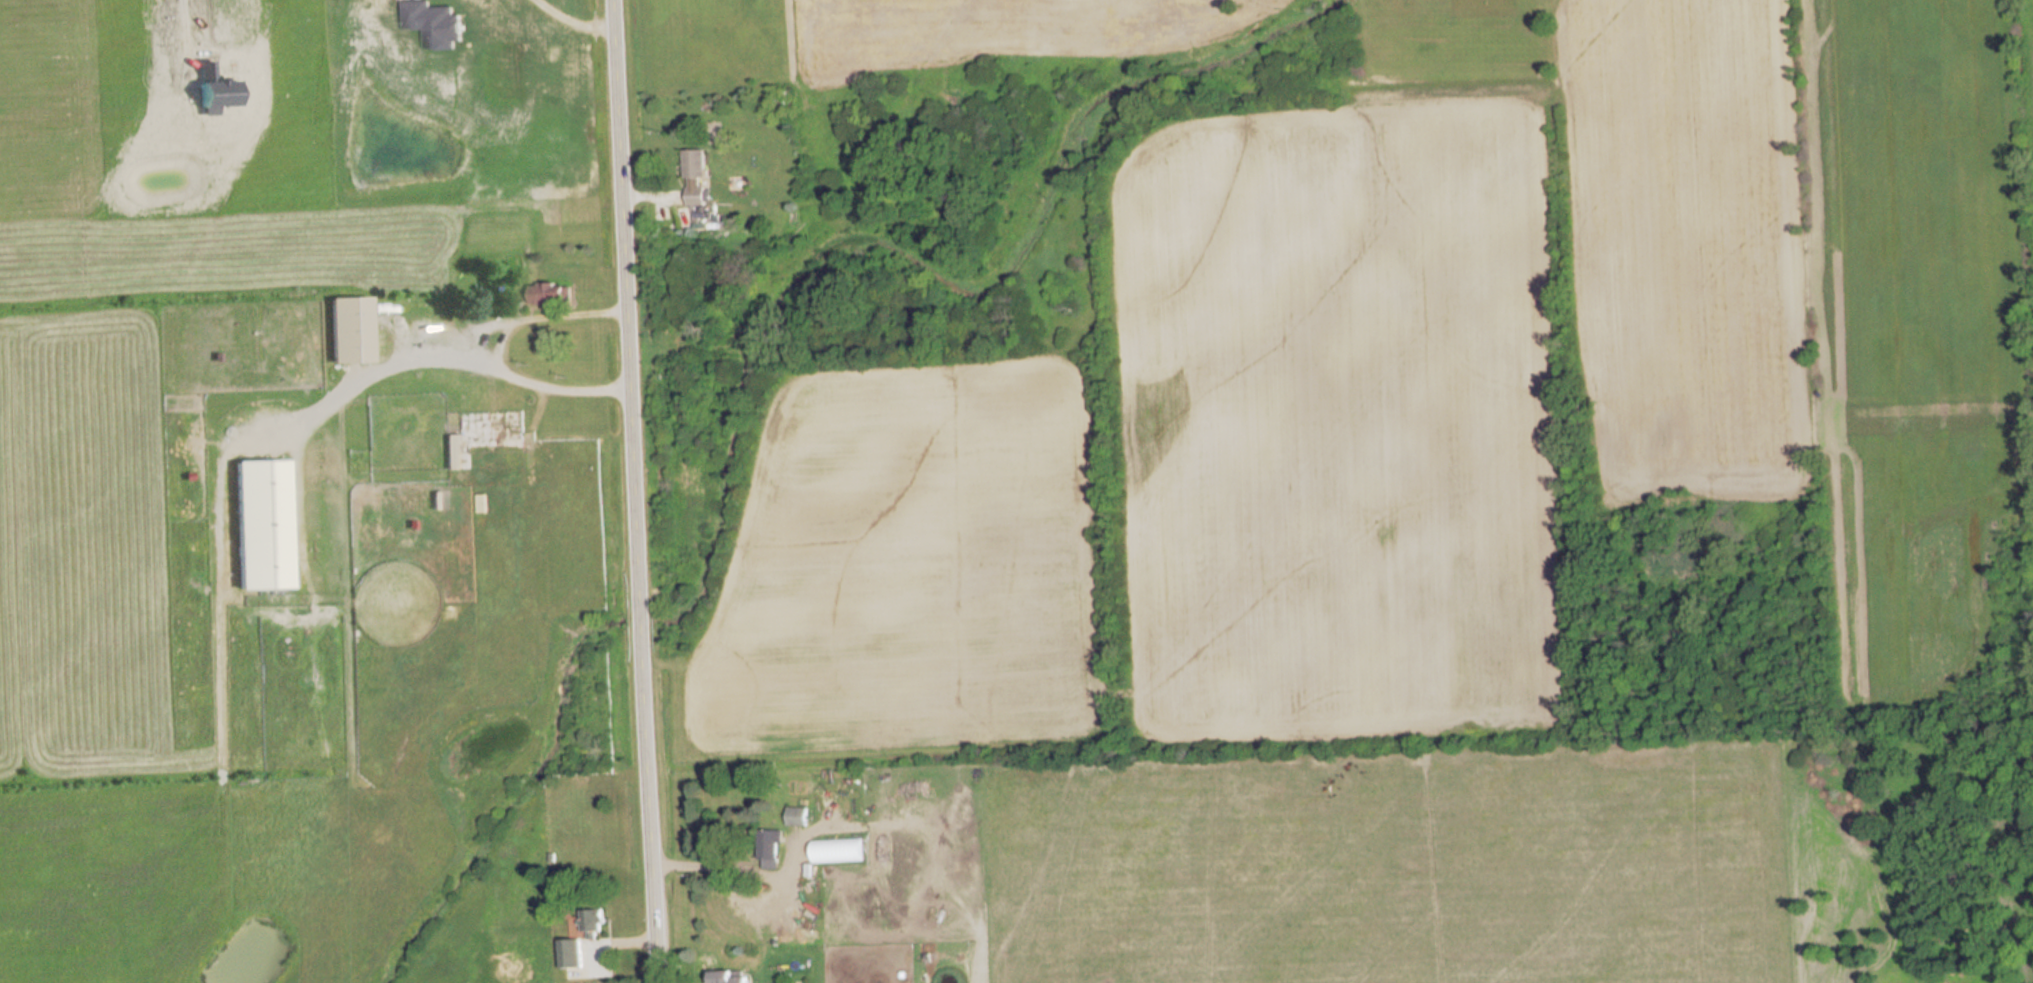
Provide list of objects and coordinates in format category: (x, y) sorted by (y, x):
road: (581, 8)
building: (454, 19)
road: (158, 30)
building: (692, 164)
building: (549, 294)
building: (349, 330)
road: (481, 339)
road: (632, 491)
building: (436, 501)
building: (481, 503)
building: (260, 524)
building: (796, 816)
building: (768, 849)
building: (815, 859)
road: (708, 870)
building: (579, 942)
building: (728, 976)

